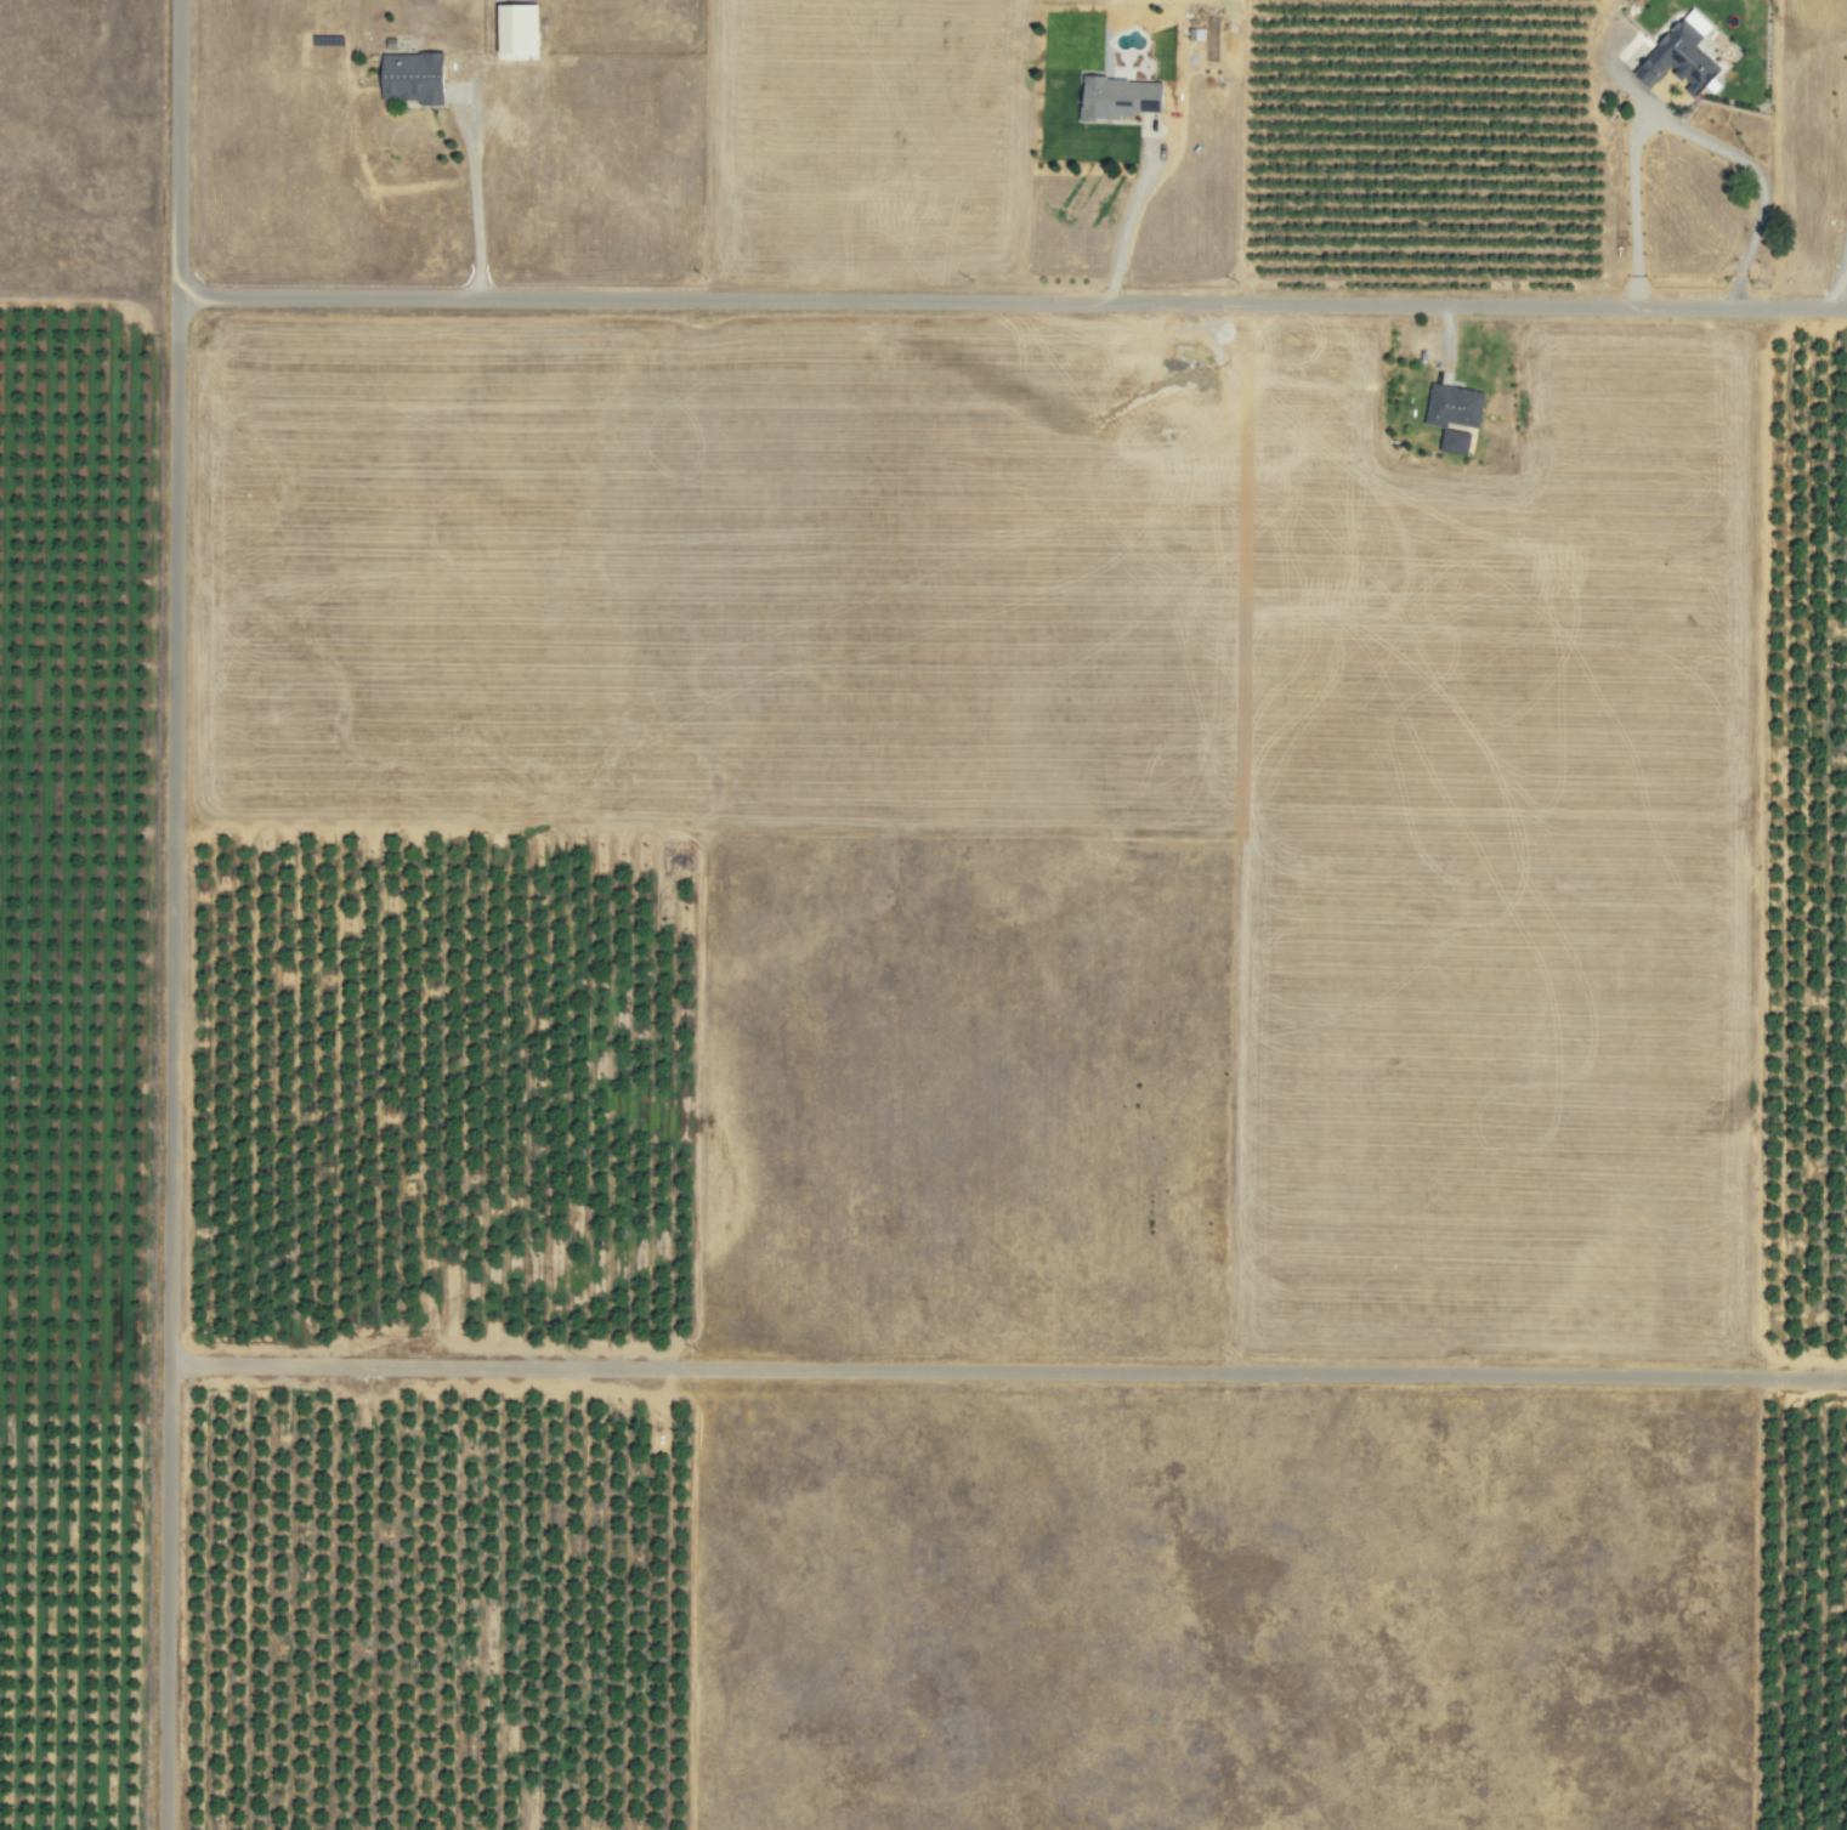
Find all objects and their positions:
building: (520, 28)
building: (1667, 53)
building: (415, 78)
building: (1121, 96)
road: (1740, 160)
road: (472, 191)
road: (1126, 211)
road: (1010, 300)
building: (1449, 415)
road: (170, 914)
road: (1007, 1371)

